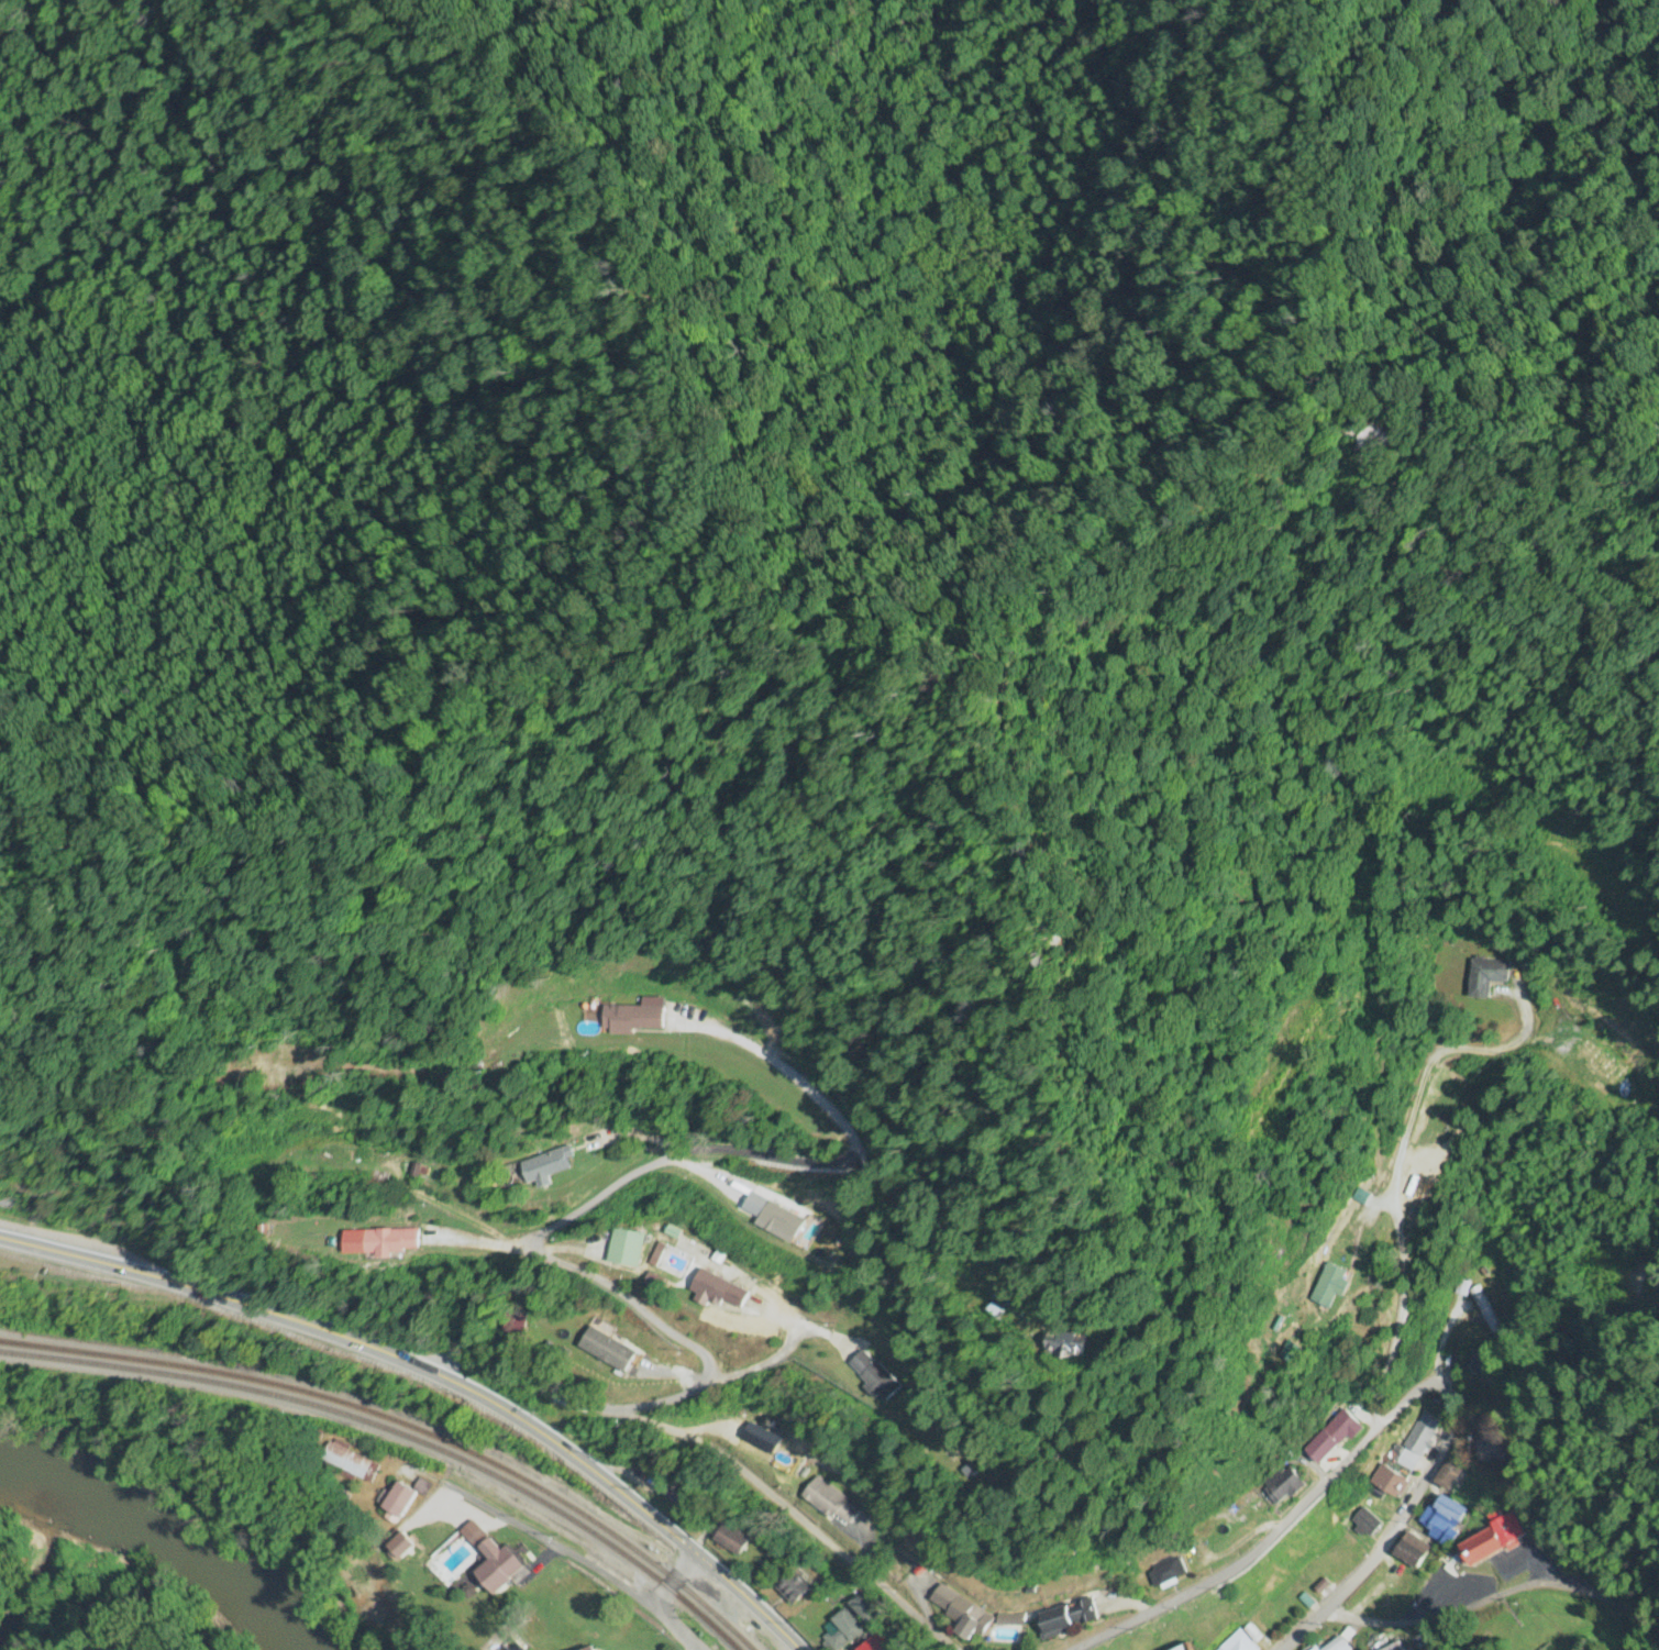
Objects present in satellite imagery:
building: (634, 1019)
building: (473, 1066)
road: (670, 1158)
building: (543, 1167)
building: (411, 1171)
building: (392, 1241)
building: (627, 1249)
building: (1334, 1285)
building: (720, 1291)
road: (215, 1297)
building: (1070, 1344)
building: (1293, 1352)
building: (609, 1353)
building: (1485, 1362)
building: (874, 1377)
road: (721, 1381)
road: (176, 1385)
railway: (402, 1421)
building: (1422, 1436)
building: (1336, 1437)
road: (720, 1451)
building: (1491, 1452)
building: (351, 1462)
building: (1448, 1476)
building: (1391, 1482)
building: (1283, 1485)
road: (624, 1488)
building: (403, 1499)
building: (685, 1500)
building: (1379, 1502)
building: (832, 1503)
building: (1442, 1519)
building: (1367, 1524)
road: (524, 1531)
road: (1274, 1532)
road: (1389, 1538)
building: (1495, 1538)
building: (732, 1539)
building: (399, 1550)
building: (1412, 1551)
building: (1343, 1553)
river: (179, 1559)
building: (501, 1568)
building: (1168, 1571)
building: (1315, 1579)
building: (1289, 1590)
building: (790, 1591)
road: (1500, 1594)
building: (865, 1609)
building: (955, 1612)
building: (1066, 1619)
building: (842, 1631)
building: (878, 1642)
building: (1240, 1642)
building: (1337, 1646)
building: (1395, 1647)
building: (1188, 1648)
building: (593, 1649)

